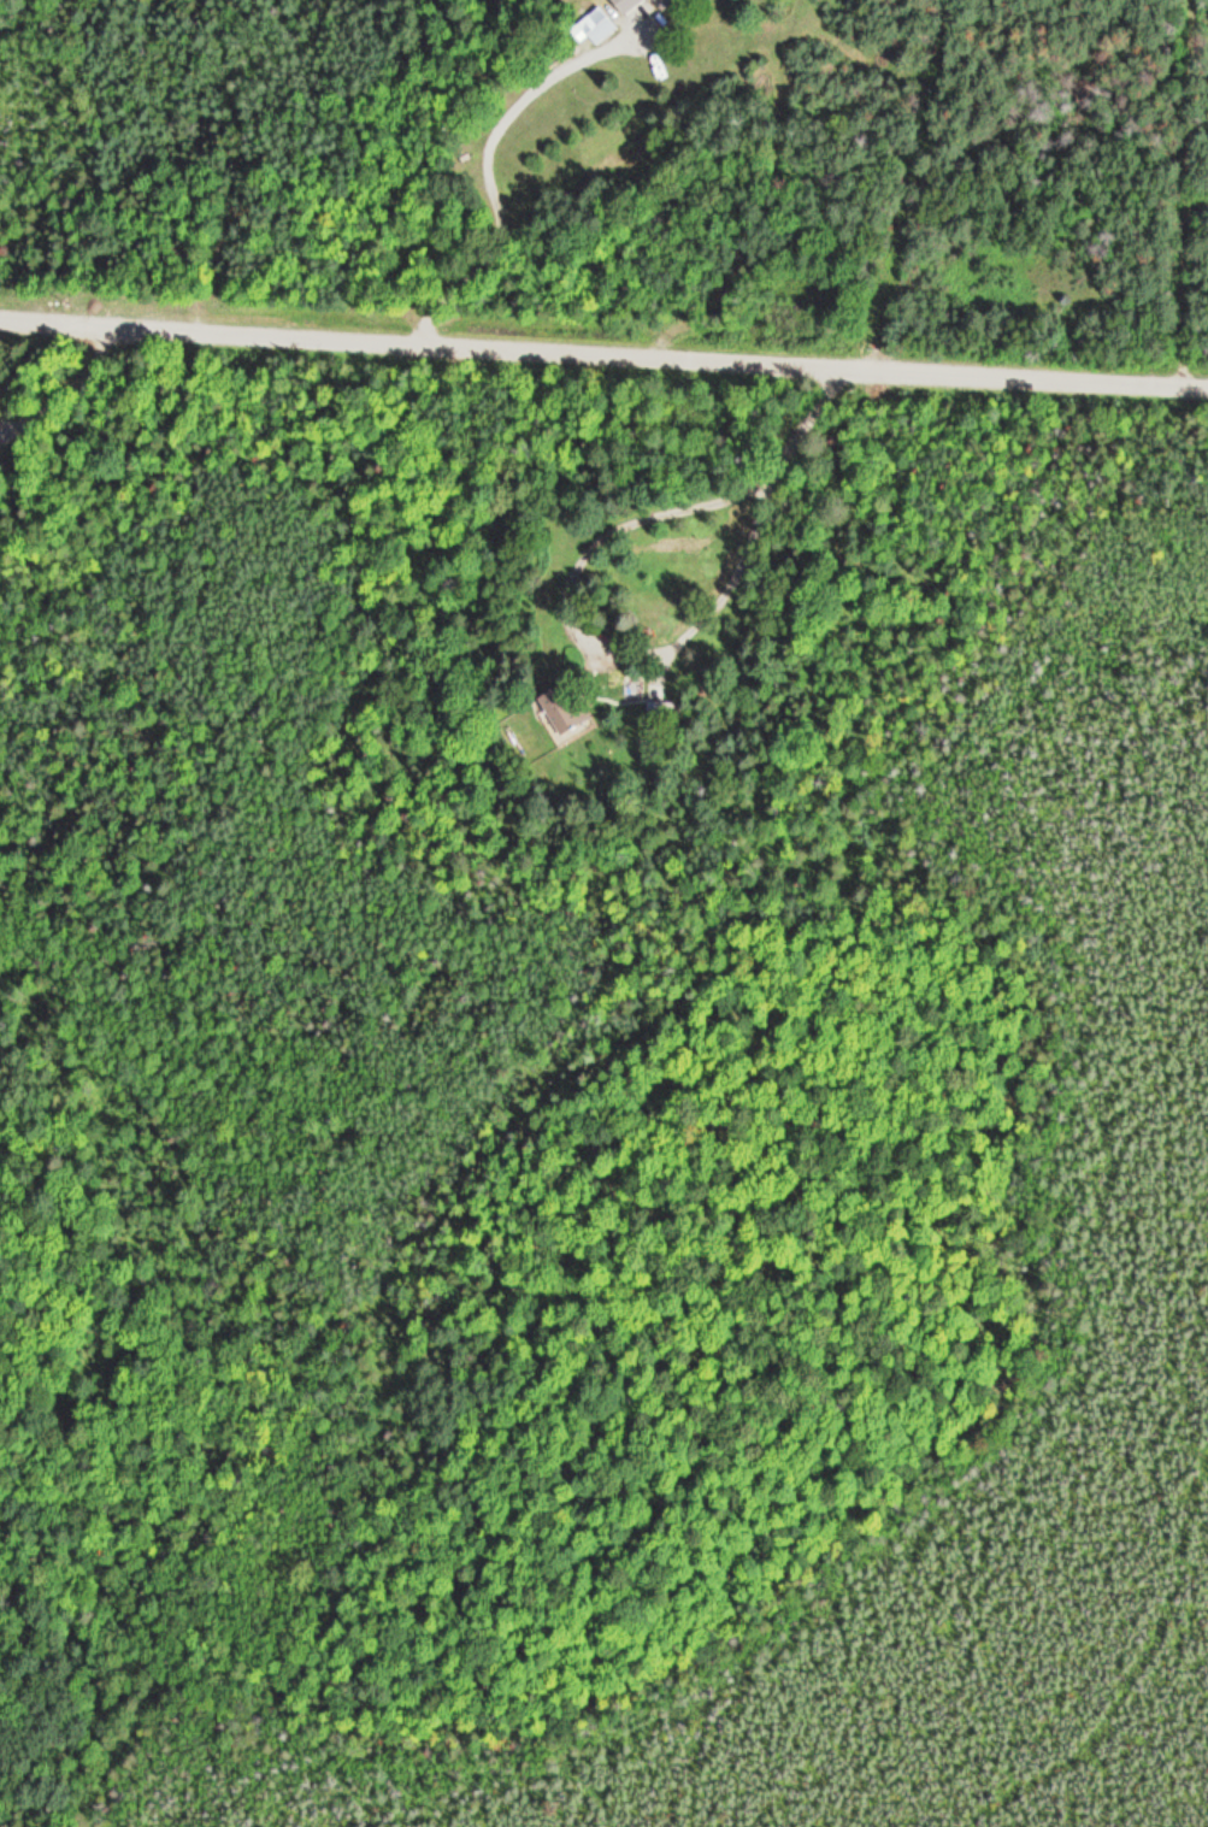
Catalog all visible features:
road: (484, 160)
road: (1189, 193)
road: (603, 353)
road: (629, 648)

